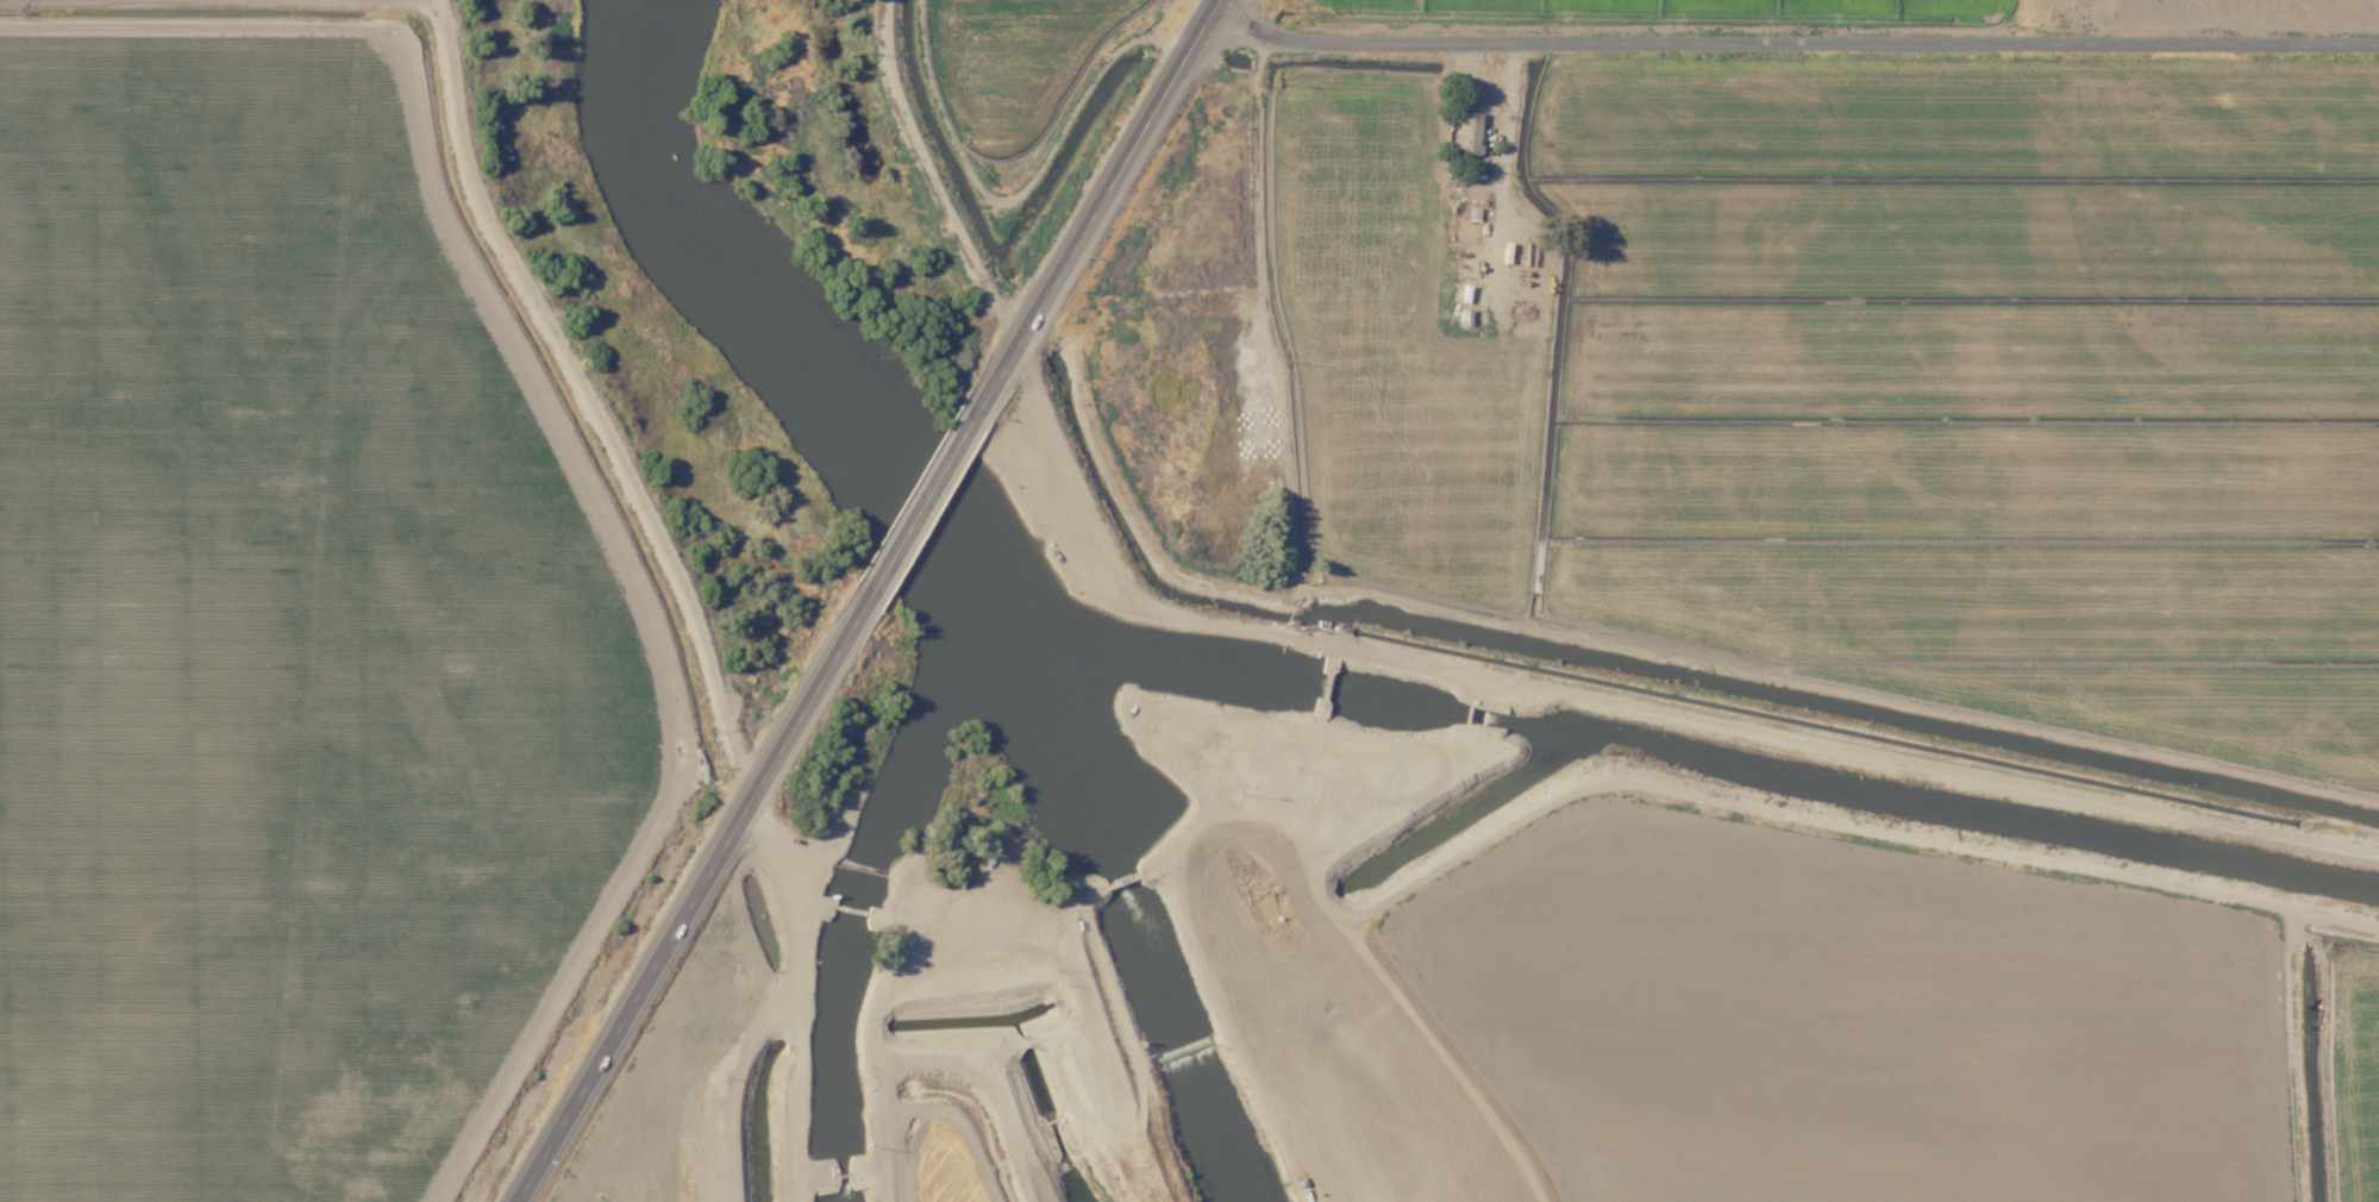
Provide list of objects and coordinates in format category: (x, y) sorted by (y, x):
road: (1798, 40)
crop: (1007, 77)
road: (226, 87)
building: (1464, 123)
road: (1108, 189)
river: (691, 253)
road: (588, 401)
road: (926, 501)
river: (946, 596)
crop: (283, 634)
road: (1628, 701)
road: (1676, 787)
river: (1077, 820)
road: (688, 909)
road: (939, 1059)
river: (1170, 1088)
crop: (925, 1160)

